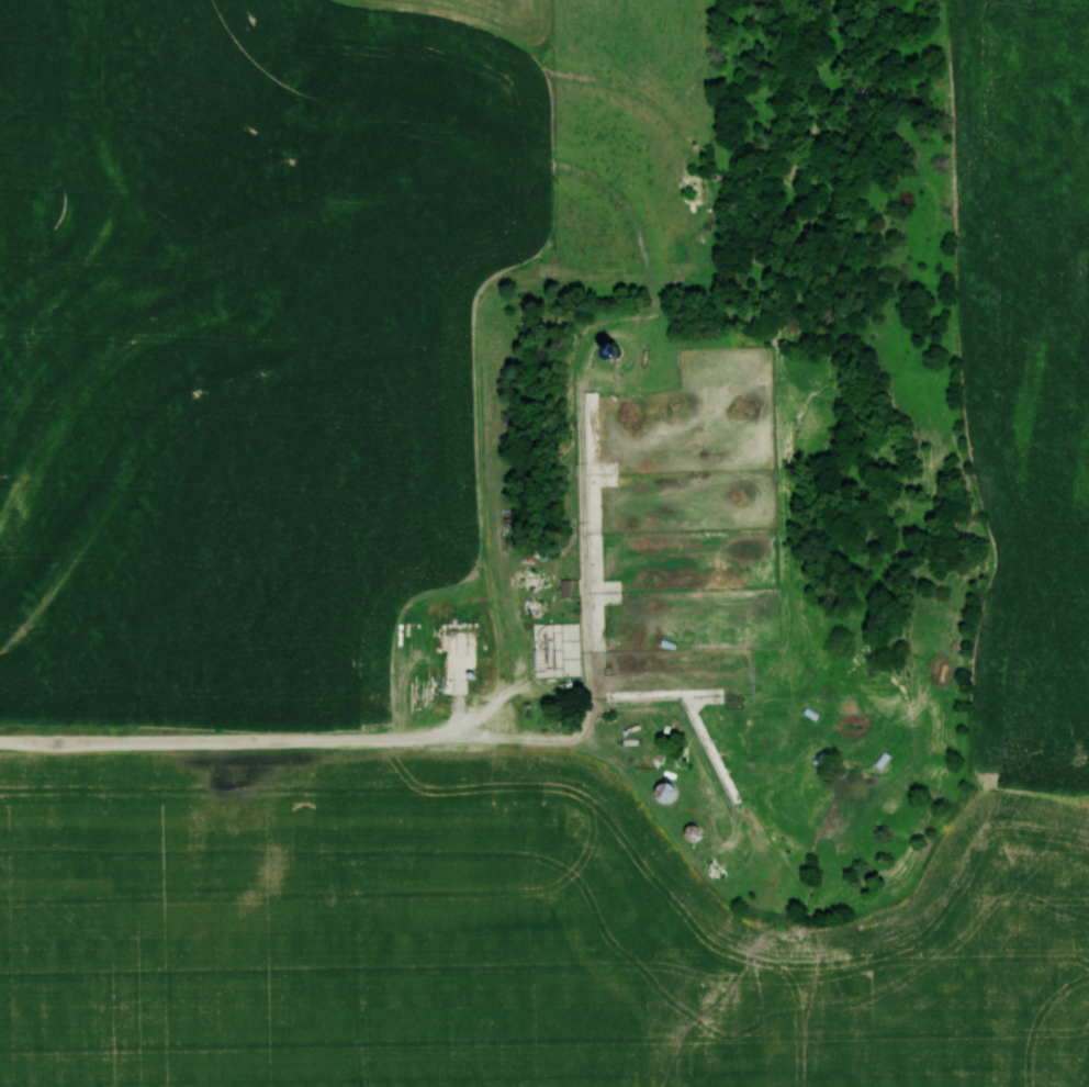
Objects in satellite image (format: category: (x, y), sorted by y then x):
road: (262, 738)
building: (670, 793)
building: (695, 834)

